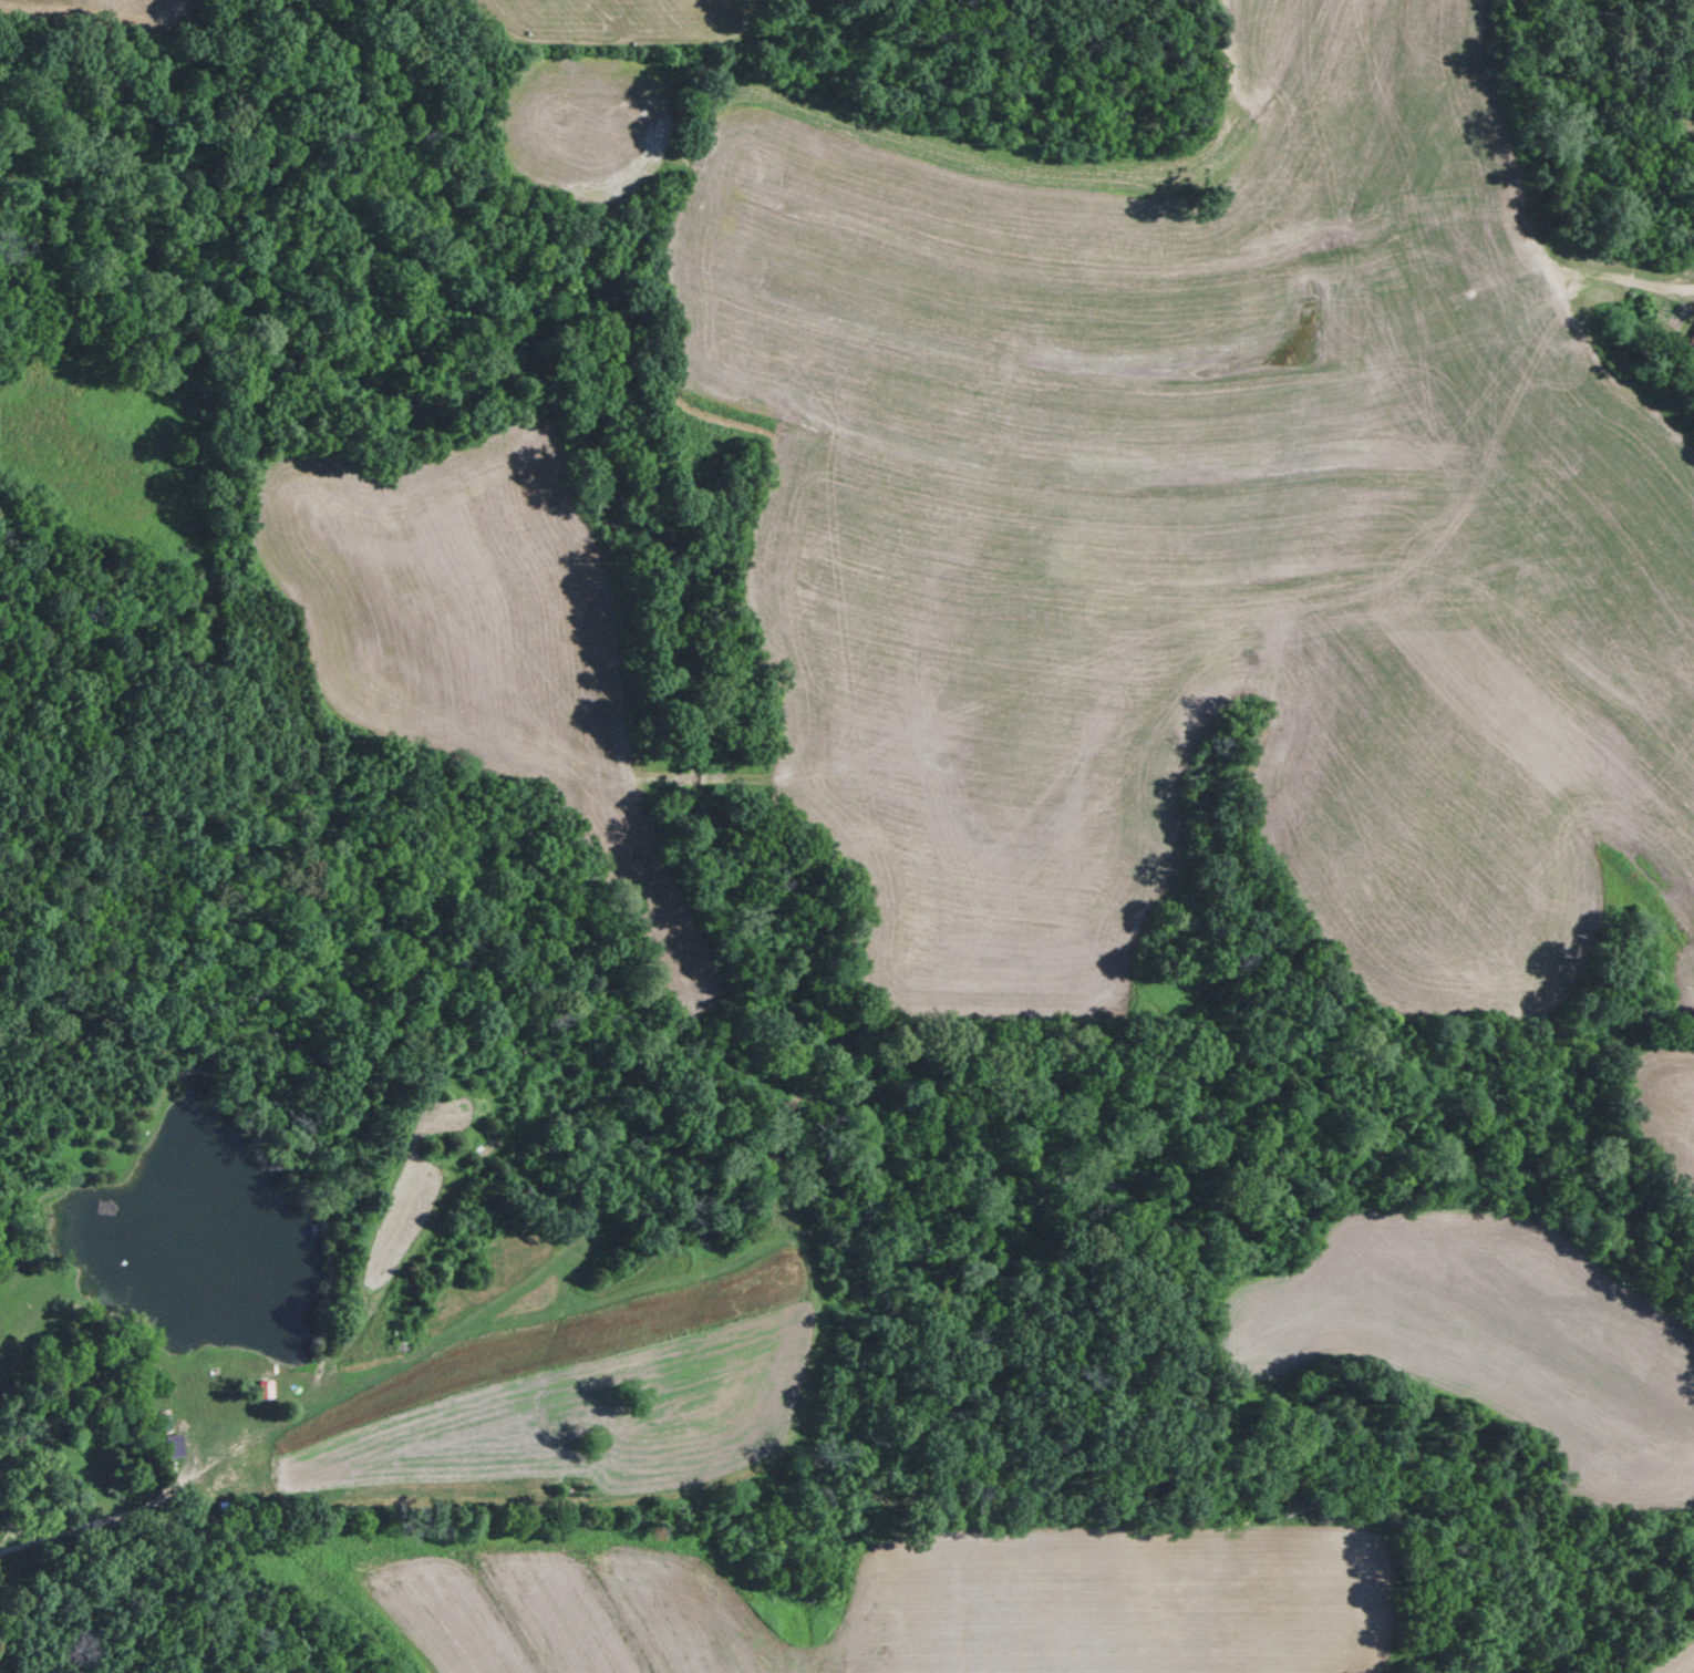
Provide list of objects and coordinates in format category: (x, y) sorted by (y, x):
building: (1692, 345)
road: (85, 1527)

